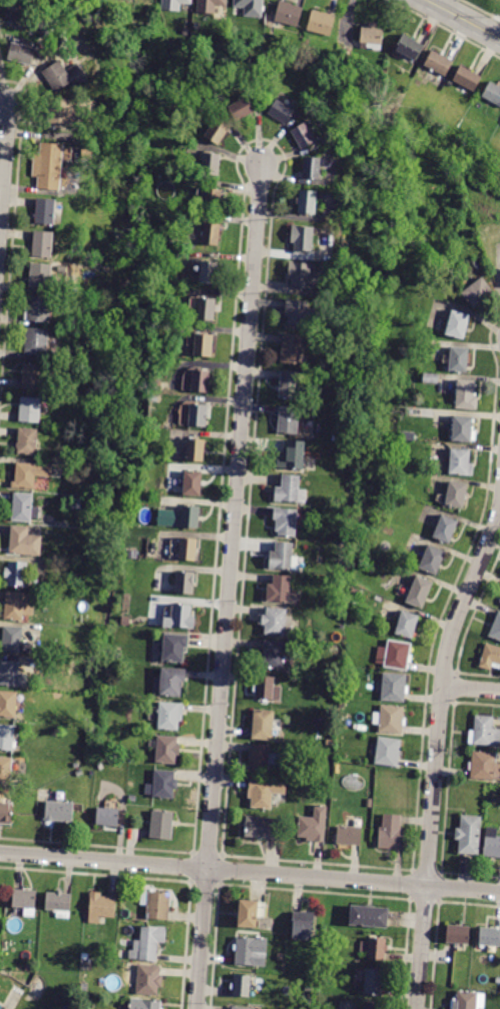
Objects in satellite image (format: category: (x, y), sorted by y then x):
building: (174, 4)
building: (210, 5)
building: (250, 7)
road: (484, 7)
building: (288, 13)
road: (461, 20)
building: (321, 22)
building: (196, 26)
road: (444, 27)
building: (186, 31)
building: (372, 38)
building: (409, 47)
building: (21, 53)
building: (347, 55)
building: (438, 63)
building: (64, 75)
building: (467, 78)
building: (492, 92)
building: (241, 109)
building: (60, 111)
building: (281, 111)
building: (421, 115)
building: (217, 131)
building: (303, 135)
building: (87, 154)
road: (4, 161)
building: (211, 164)
building: (50, 165)
building: (311, 167)
building: (212, 200)
building: (307, 201)
building: (45, 211)
building: (211, 234)
building: (302, 238)
building: (43, 244)
building: (209, 272)
building: (300, 274)
building: (41, 275)
building: (478, 292)
building: (39, 308)
building: (205, 309)
building: (297, 312)
building: (458, 325)
building: (37, 341)
building: (203, 345)
building: (293, 349)
building: (459, 359)
building: (33, 376)
building: (431, 378)
building: (201, 381)
building: (289, 385)
building: (377, 387)
building: (466, 394)
building: (93, 401)
building: (30, 410)
building: (198, 415)
building: (289, 420)
building: (386, 420)
building: (463, 429)
building: (91, 434)
building: (27, 441)
building: (194, 449)
building: (292, 454)
building: (459, 461)
building: (30, 474)
building: (192, 483)
building: (94, 488)
building: (290, 490)
building: (456, 494)
building: (24, 508)
building: (179, 517)
building: (285, 521)
building: (91, 525)
building: (446, 529)
building: (25, 542)
building: (189, 550)
building: (133, 553)
building: (282, 556)
building: (432, 560)
building: (300, 565)
building: (17, 574)
building: (185, 582)
road: (229, 588)
building: (279, 589)
building: (419, 592)
building: (19, 605)
building: (180, 617)
building: (126, 621)
building: (277, 622)
building: (407, 624)
building: (495, 629)
building: (15, 641)
building: (175, 647)
building: (272, 655)
building: (395, 655)
building: (117, 657)
building: (491, 657)
building: (12, 674)
building: (170, 682)
building: (394, 687)
building: (267, 689)
road: (470, 689)
building: (8, 704)
building: (170, 715)
building: (390, 719)
building: (263, 724)
building: (484, 732)
building: (6, 737)
building: (329, 743)
building: (166, 749)
building: (387, 751)
road: (437, 752)
building: (259, 757)
building: (485, 766)
building: (6, 770)
building: (162, 785)
building: (265, 792)
building: (59, 811)
building: (6, 813)
building: (107, 817)
building: (313, 824)
building: (162, 825)
building: (263, 827)
building: (392, 833)
building: (469, 834)
building: (349, 835)
building: (492, 843)
road: (250, 872)
building: (25, 900)
building: (59, 903)
building: (157, 904)
building: (101, 907)
building: (248, 913)
building: (369, 916)
building: (303, 925)
building: (458, 934)
building: (489, 937)
building: (148, 943)
building: (374, 948)
building: (250, 951)
building: (85, 956)
building: (280, 957)
building: (312, 966)
building: (148, 980)
building: (374, 982)
building: (242, 986)
building: (309, 988)
building: (468, 1001)
building: (145, 1004)
building: (372, 1006)
building: (0, 1007)
building: (239, 1008)

